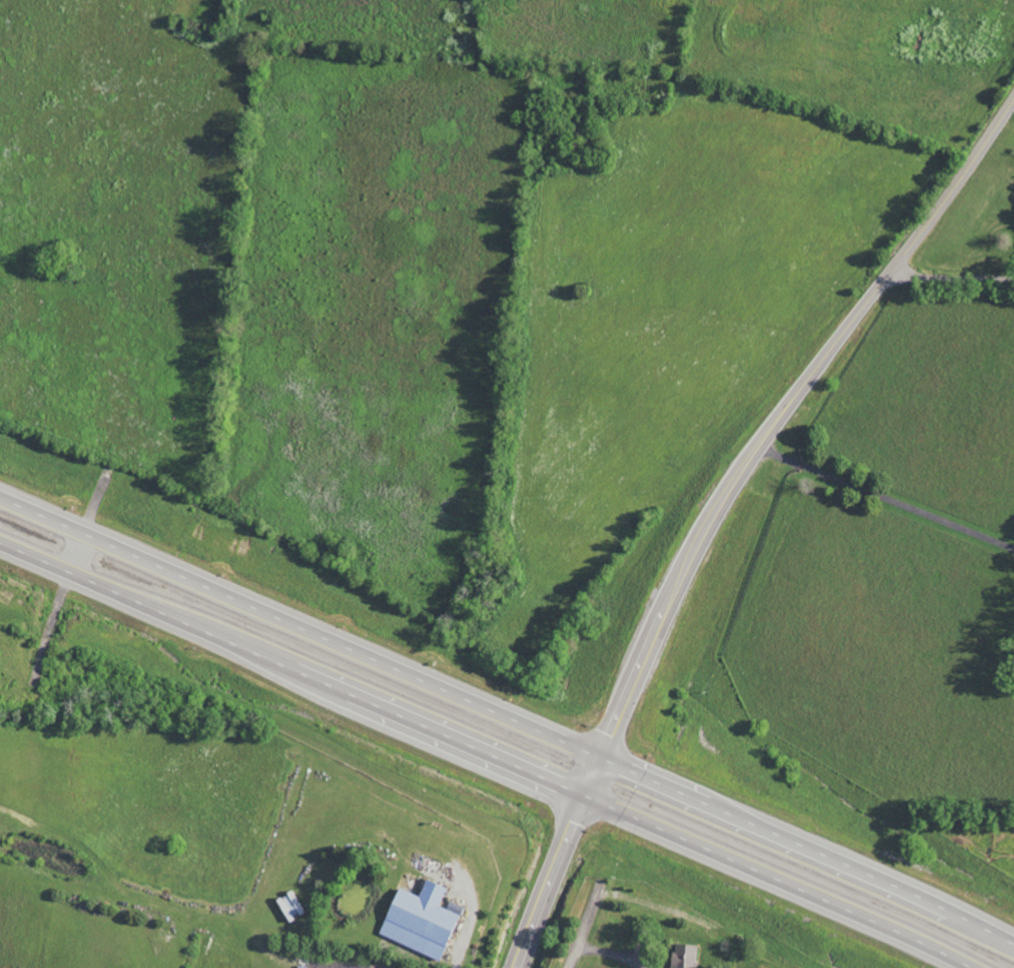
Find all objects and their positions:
road: (952, 274)
road: (885, 500)
road: (718, 506)
road: (507, 716)
road: (489, 753)
building: (288, 905)
building: (418, 920)
building: (682, 956)

